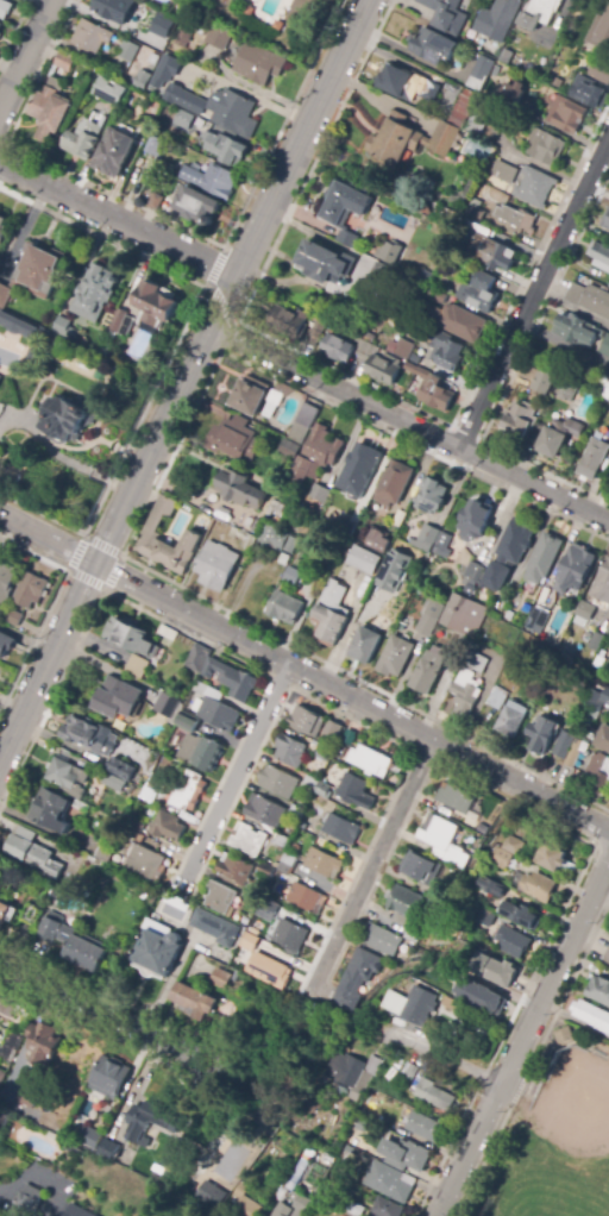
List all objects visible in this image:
building: (563, 0)
building: (246, 1)
building: (5, 8)
building: (114, 10)
building: (249, 11)
building: (540, 13)
building: (446, 14)
building: (498, 19)
building: (1, 25)
building: (161, 25)
building: (278, 26)
road: (13, 27)
building: (604, 32)
building: (0, 35)
building: (92, 37)
building: (181, 37)
building: (218, 37)
building: (431, 44)
building: (155, 45)
building: (128, 50)
road: (25, 54)
building: (152, 59)
building: (64, 61)
building: (515, 61)
building: (258, 63)
building: (167, 69)
building: (481, 73)
building: (599, 73)
building: (142, 79)
building: (408, 84)
building: (109, 90)
building: (589, 92)
building: (513, 95)
building: (83, 106)
building: (219, 108)
building: (51, 109)
building: (464, 109)
building: (567, 114)
building: (184, 120)
building: (477, 123)
building: (83, 138)
road: (302, 138)
building: (409, 140)
building: (155, 145)
building: (546, 148)
building: (226, 149)
building: (114, 153)
building: (504, 173)
building: (211, 180)
building: (535, 188)
building: (155, 199)
building: (196, 205)
building: (343, 209)
building: (500, 212)
road: (117, 220)
road: (168, 220)
building: (605, 221)
building: (4, 231)
building: (390, 252)
building: (492, 252)
building: (599, 256)
building: (326, 263)
building: (34, 275)
building: (379, 281)
road: (203, 288)
building: (96, 290)
building: (479, 292)
road: (533, 292)
building: (438, 296)
building: (590, 299)
building: (152, 306)
road: (571, 308)
building: (118, 321)
building: (289, 321)
building: (459, 322)
building: (18, 324)
building: (65, 330)
building: (316, 331)
building: (578, 331)
building: (364, 341)
road: (564, 344)
building: (607, 347)
building: (339, 349)
building: (402, 349)
road: (172, 351)
building: (446, 351)
building: (8, 356)
building: (384, 368)
building: (417, 371)
road: (346, 375)
building: (0, 377)
building: (544, 381)
building: (607, 390)
building: (396, 391)
building: (280, 393)
building: (567, 393)
building: (435, 394)
building: (250, 396)
building: (269, 410)
building: (306, 414)
building: (68, 420)
road: (164, 420)
building: (520, 420)
road: (409, 424)
building: (558, 437)
building: (237, 439)
building: (293, 441)
building: (316, 455)
road: (63, 459)
building: (592, 459)
building: (359, 469)
building: (394, 483)
building: (240, 489)
building: (608, 489)
building: (319, 493)
building: (431, 496)
road: (145, 507)
building: (397, 518)
building: (473, 521)
building: (246, 524)
building: (345, 525)
building: (151, 534)
building: (276, 539)
building: (429, 539)
road: (46, 540)
building: (378, 540)
building: (250, 543)
building: (454, 547)
building: (509, 553)
road: (120, 554)
building: (544, 558)
building: (364, 560)
building: (216, 566)
building: (575, 569)
building: (391, 570)
building: (475, 571)
building: (291, 575)
building: (7, 578)
building: (602, 584)
building: (30, 590)
road: (49, 607)
building: (284, 608)
building: (365, 613)
building: (585, 613)
building: (331, 614)
building: (464, 614)
building: (14, 618)
building: (404, 621)
building: (538, 621)
building: (427, 623)
building: (168, 633)
building: (132, 635)
building: (595, 643)
building: (6, 644)
building: (365, 645)
building: (481, 651)
building: (395, 657)
building: (197, 658)
road: (48, 663)
building: (138, 664)
building: (429, 670)
building: (232, 679)
building: (469, 687)
building: (497, 697)
building: (117, 698)
road: (351, 700)
building: (594, 701)
building: (607, 701)
building: (167, 706)
building: (218, 712)
building: (589, 716)
building: (510, 720)
building: (307, 721)
building: (187, 722)
building: (333, 731)
building: (540, 734)
building: (90, 735)
building: (602, 738)
building: (565, 740)
building: (290, 751)
building: (201, 752)
building: (575, 752)
building: (324, 753)
building: (365, 760)
building: (121, 769)
road: (236, 771)
building: (597, 775)
building: (68, 778)
building: (278, 782)
building: (113, 783)
building: (312, 783)
building: (152, 788)
building: (131, 790)
building: (189, 791)
building: (325, 791)
building: (354, 791)
building: (454, 797)
building: (51, 810)
building: (265, 811)
building: (296, 813)
building: (475, 822)
building: (168, 827)
building: (136, 828)
building: (341, 829)
building: (249, 840)
building: (442, 840)
building: (281, 841)
building: (513, 845)
building: (105, 853)
building: (32, 857)
building: (554, 857)
building: (502, 858)
building: (146, 863)
building: (324, 864)
road: (373, 864)
building: (287, 866)
building: (420, 867)
building: (236, 870)
building: (266, 871)
building: (496, 888)
building: (539, 888)
building: (437, 894)
building: (306, 898)
building: (253, 900)
building: (224, 902)
building: (404, 902)
building: (268, 910)
building: (31, 914)
building: (519, 914)
building: (8, 915)
building: (485, 915)
building: (409, 923)
building: (215, 928)
building: (290, 936)
building: (412, 936)
building: (383, 940)
building: (513, 942)
building: (247, 944)
building: (76, 945)
building: (157, 952)
building: (607, 958)
building: (496, 970)
building: (448, 971)
building: (271, 972)
building: (236, 976)
building: (220, 978)
building: (358, 978)
building: (599, 990)
building: (255, 995)
building: (483, 998)
building: (195, 1001)
building: (5, 1002)
road: (84, 1003)
building: (453, 1003)
building: (414, 1004)
building: (25, 1013)
building: (591, 1015)
road: (522, 1035)
building: (564, 1036)
building: (43, 1043)
building: (10, 1046)
road: (446, 1057)
road: (533, 1058)
building: (0, 1068)
building: (410, 1072)
building: (349, 1074)
building: (1, 1076)
building: (109, 1077)
building: (432, 1093)
building: (27, 1097)
building: (149, 1121)
building: (2, 1122)
building: (294, 1126)
building: (422, 1127)
park: (575, 1129)
building: (377, 1133)
park: (547, 1133)
building: (89, 1137)
building: (109, 1149)
building: (349, 1149)
building: (381, 1152)
building: (364, 1157)
building: (409, 1159)
building: (301, 1164)
building: (390, 1185)
building: (212, 1197)
park: (541, 1201)
building: (29, 1202)
road: (19, 1206)
building: (301, 1206)
building: (249, 1208)
building: (387, 1208)
building: (354, 1209)
building: (282, 1210)
building: (77, 1211)

